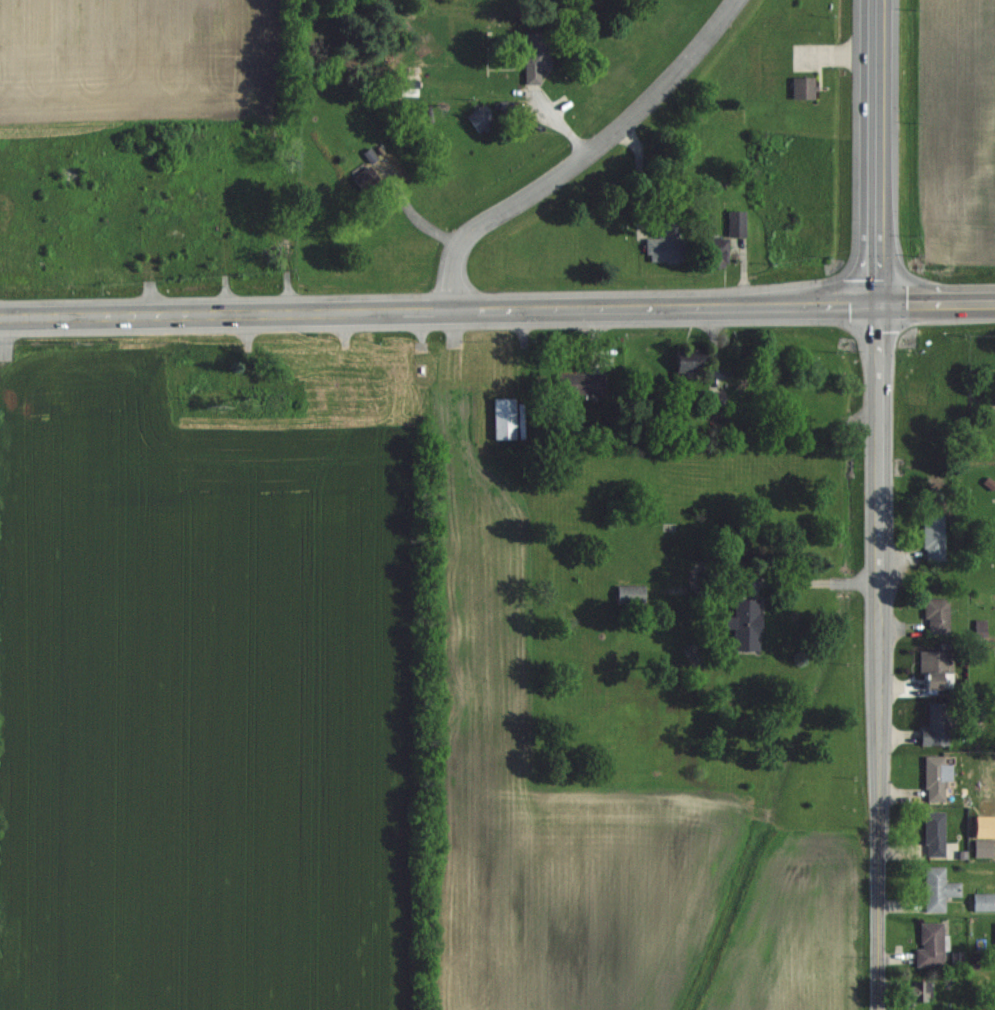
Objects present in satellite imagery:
building: (535, 56)
building: (413, 81)
building: (804, 88)
building: (480, 119)
road: (879, 153)
road: (583, 155)
building: (365, 179)
road: (410, 216)
building: (737, 224)
building: (667, 243)
building: (715, 253)
road: (937, 305)
road: (439, 307)
building: (688, 365)
building: (207, 381)
building: (581, 384)
building: (504, 418)
road: (880, 444)
building: (934, 537)
road: (818, 582)
building: (630, 594)
building: (937, 615)
building: (746, 624)
building: (935, 669)
building: (937, 726)
building: (935, 779)
road: (881, 796)
building: (935, 834)
building: (984, 848)
building: (939, 890)
building: (984, 902)
building: (931, 945)
building: (915, 992)

